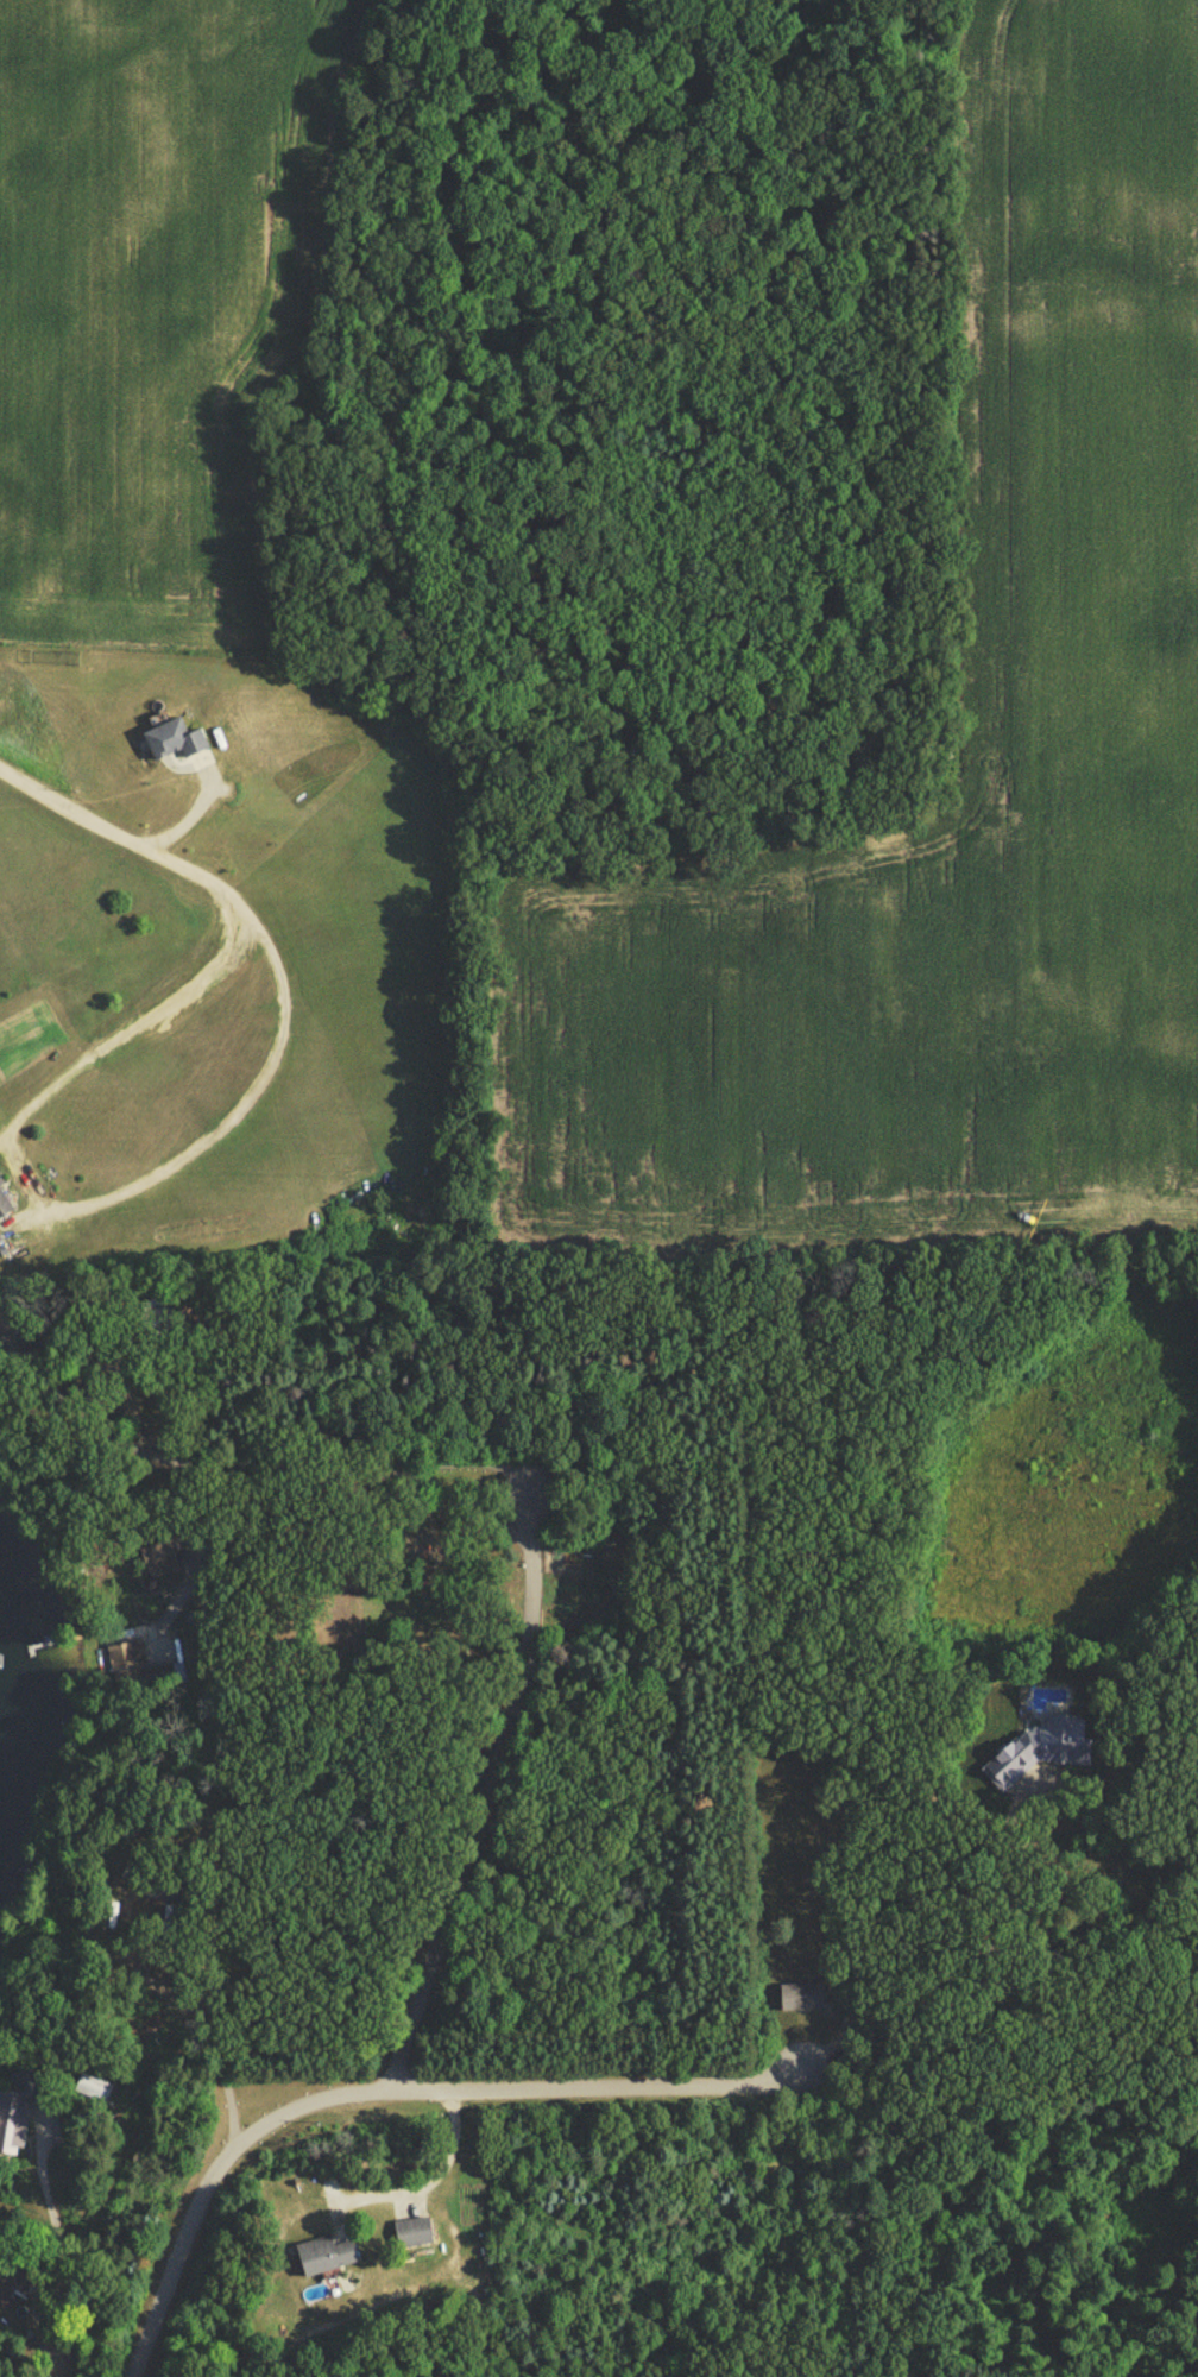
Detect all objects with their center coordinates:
building: (176, 744)
road: (111, 827)
road: (251, 1098)
building: (5, 1208)
road: (212, 1445)
road: (518, 1603)
building: (151, 1653)
building: (1011, 1759)
road: (1030, 1789)
building: (160, 1922)
road: (386, 2097)
building: (14, 2126)
road: (424, 2176)
building: (417, 2236)
road: (52, 2246)
building: (330, 2258)

